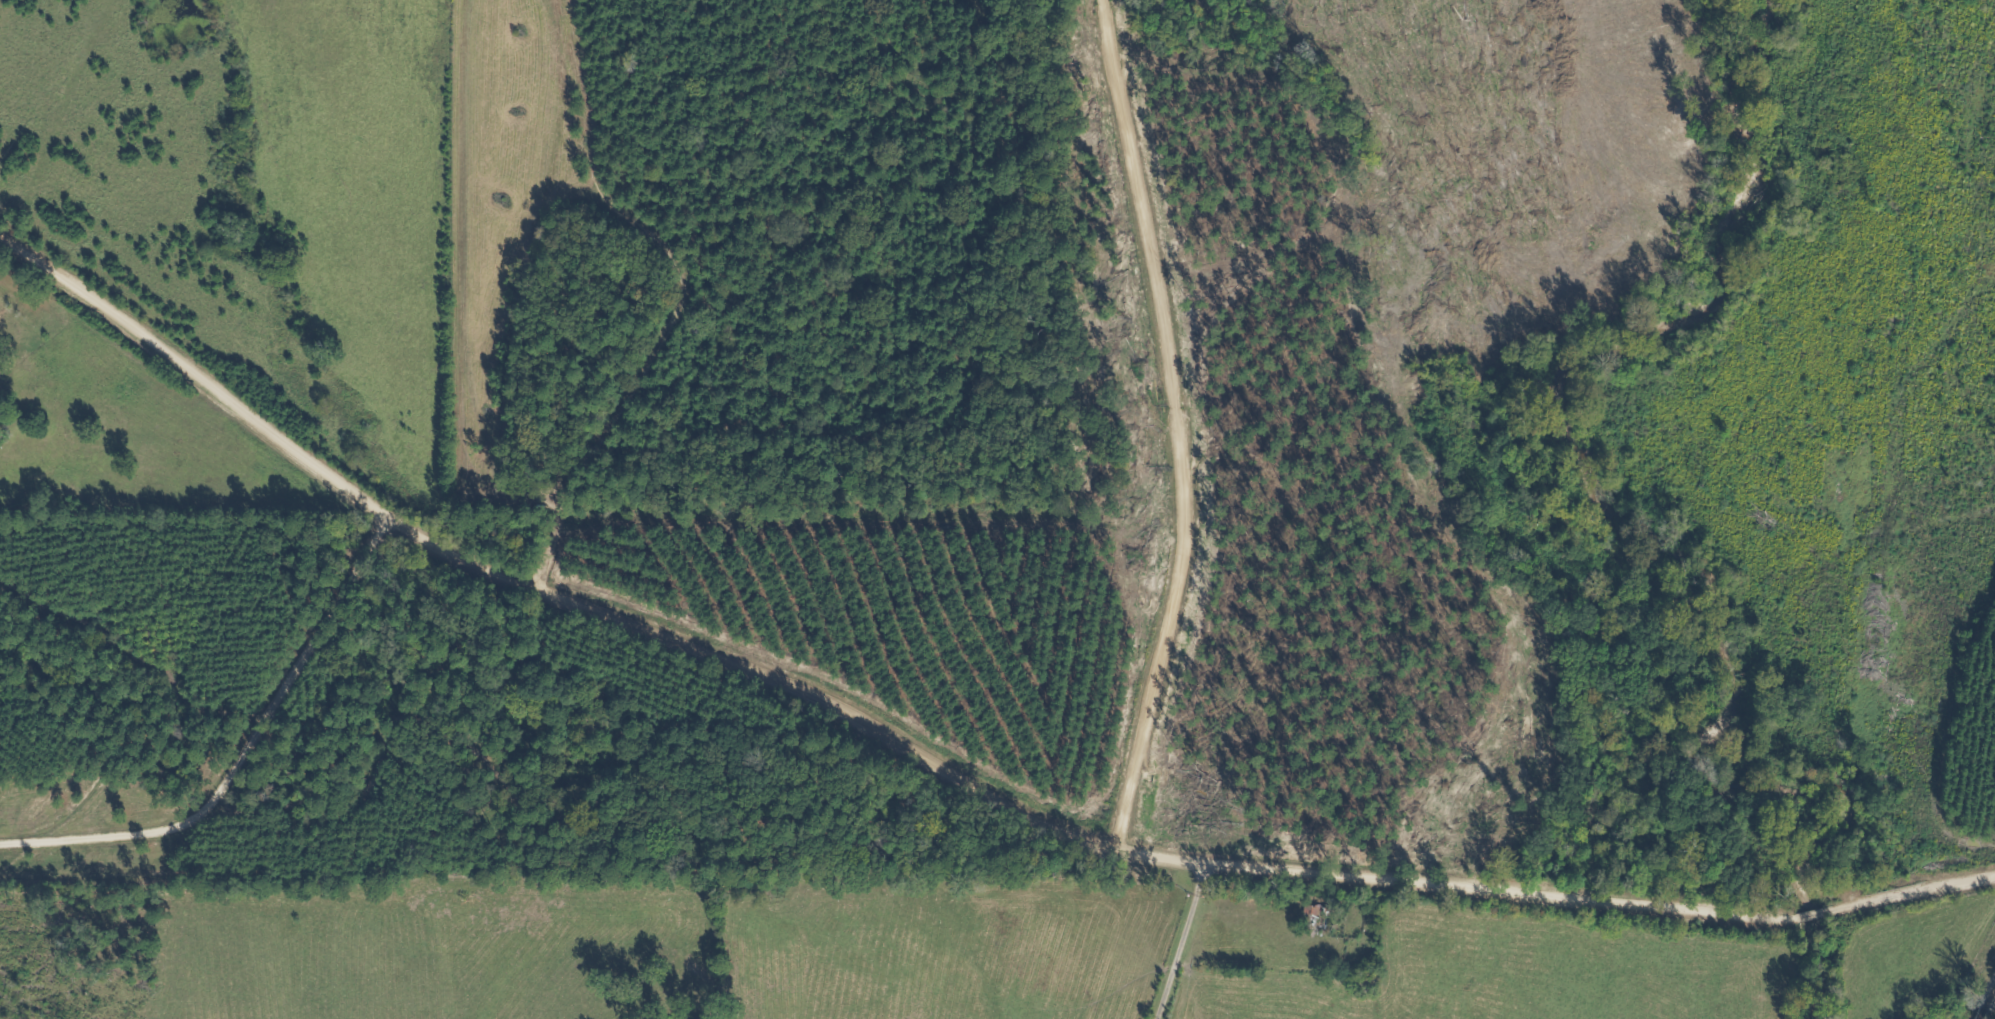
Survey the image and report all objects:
road: (321, 293)
road: (1168, 413)
road: (529, 589)
road: (1156, 851)
road: (1598, 905)
building: (1307, 914)
road: (1174, 947)
railway: (1985, 999)

